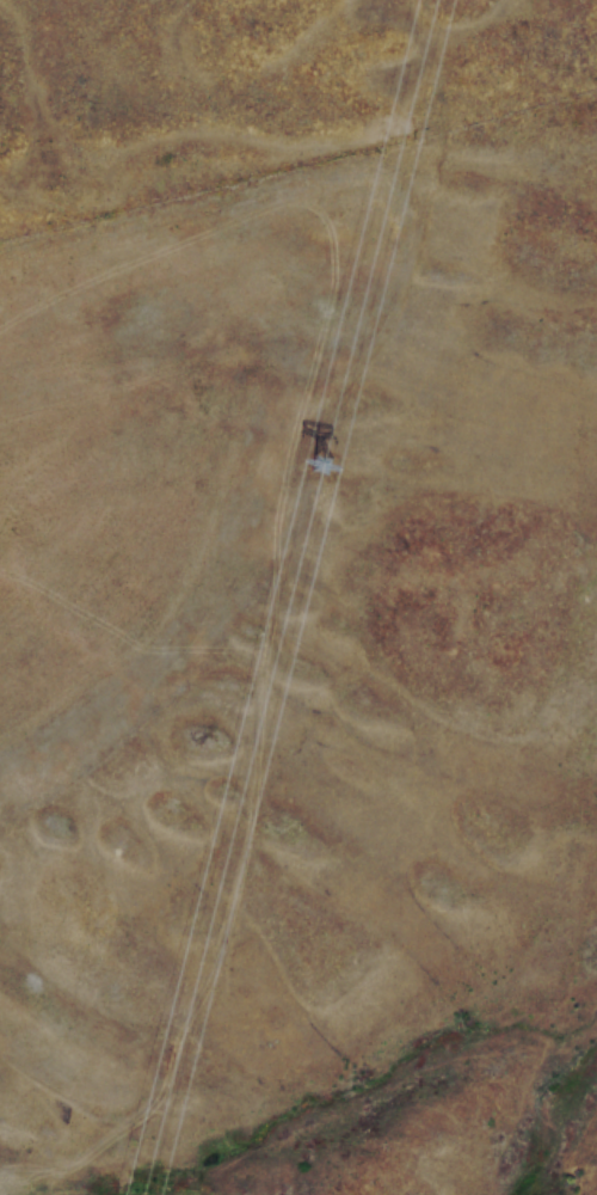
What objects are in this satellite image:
power tower: (322, 468)

